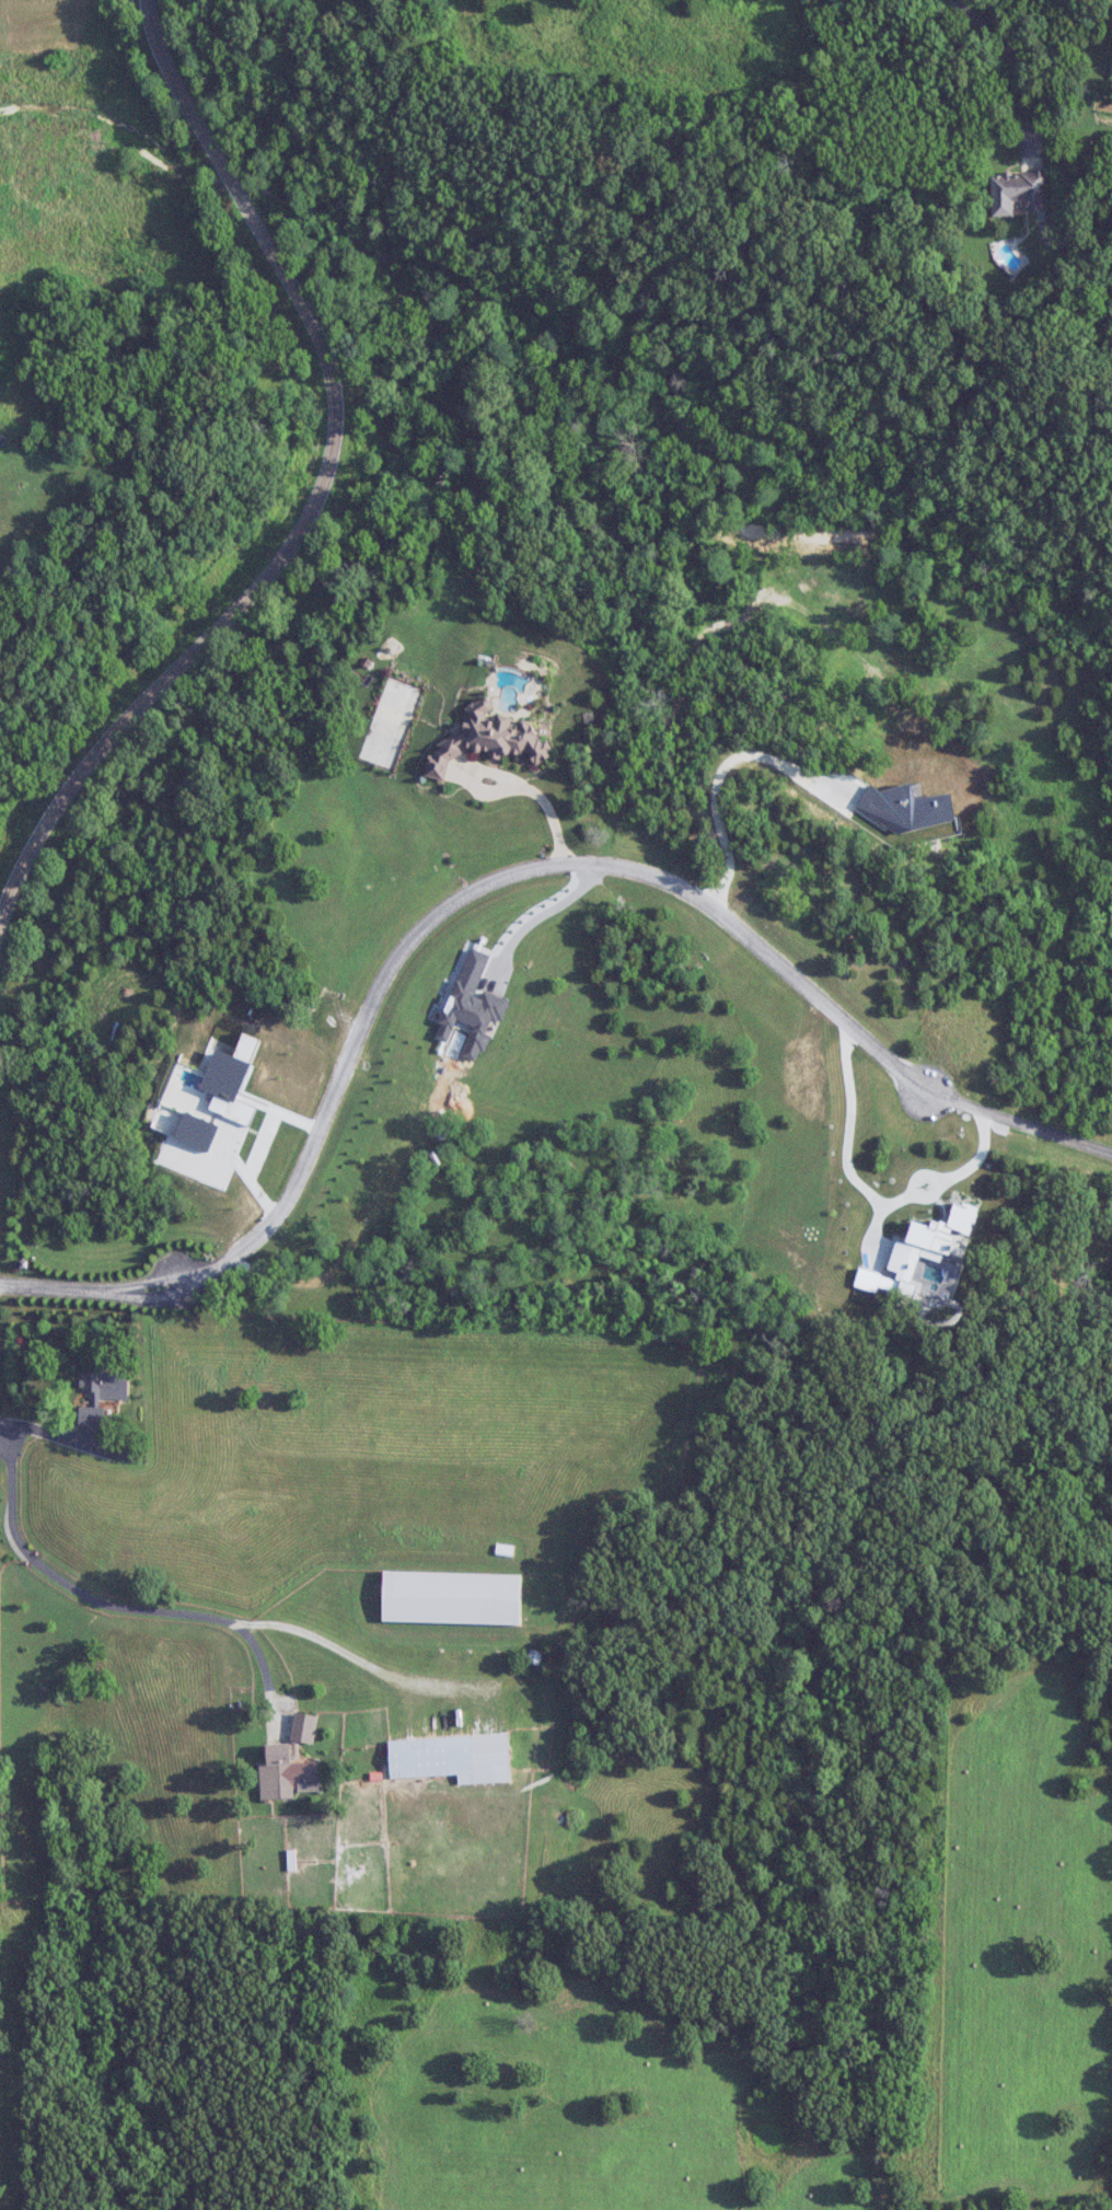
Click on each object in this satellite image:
road: (1013, 62)
building: (1018, 192)
road: (320, 498)
building: (479, 716)
road: (722, 768)
road: (513, 780)
road: (496, 881)
road: (541, 914)
road: (868, 1194)
building: (101, 1391)
building: (569, 1519)
building: (450, 1597)
road: (111, 1606)
building: (451, 1757)
building: (286, 1760)

